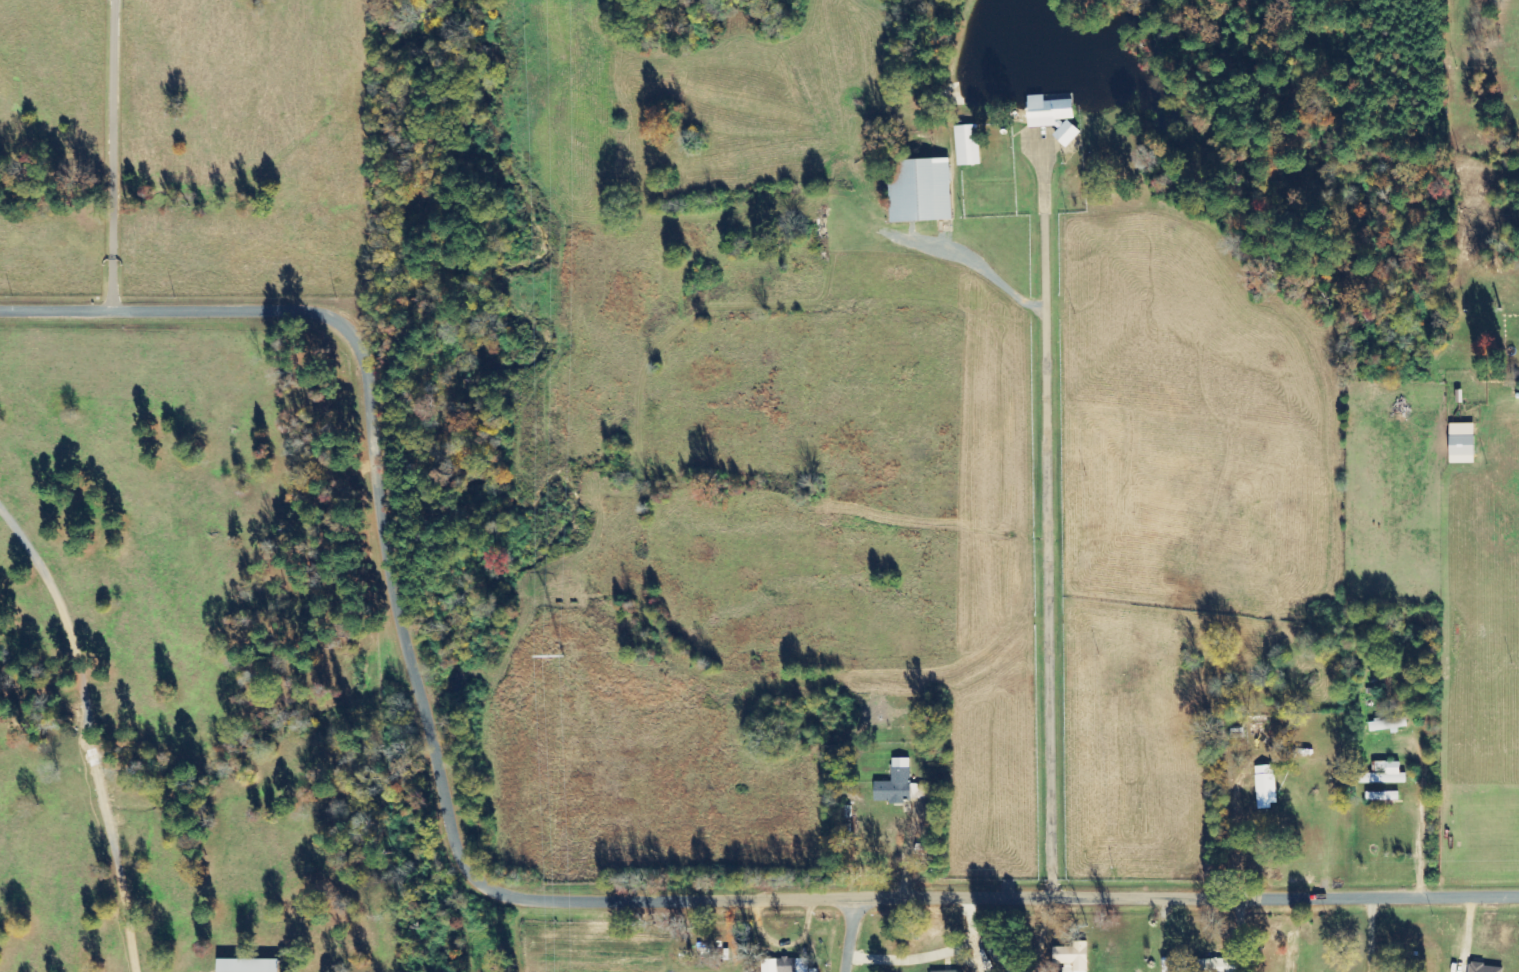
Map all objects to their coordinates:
building: (1049, 111)
building: (1067, 133)
building: (967, 145)
building: (921, 191)
building: (1463, 443)
power tower: (564, 654)
building: (1387, 724)
building: (1237, 733)
building: (900, 784)
building: (1266, 786)
road: (529, 898)
road: (849, 935)
building: (1074, 956)
building: (250, 965)
building: (785, 965)
building: (1223, 965)
building: (1485, 968)

